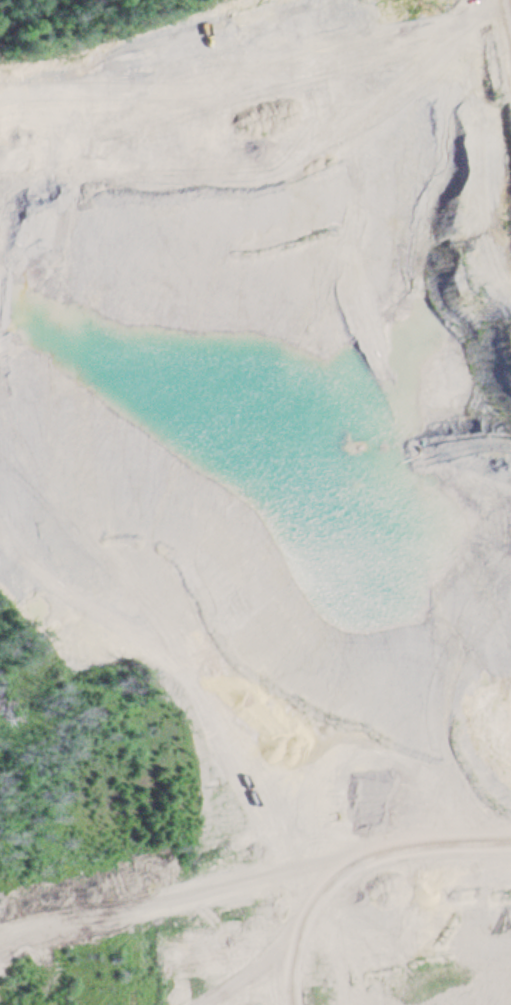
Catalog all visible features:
quarry: (255, 502)

